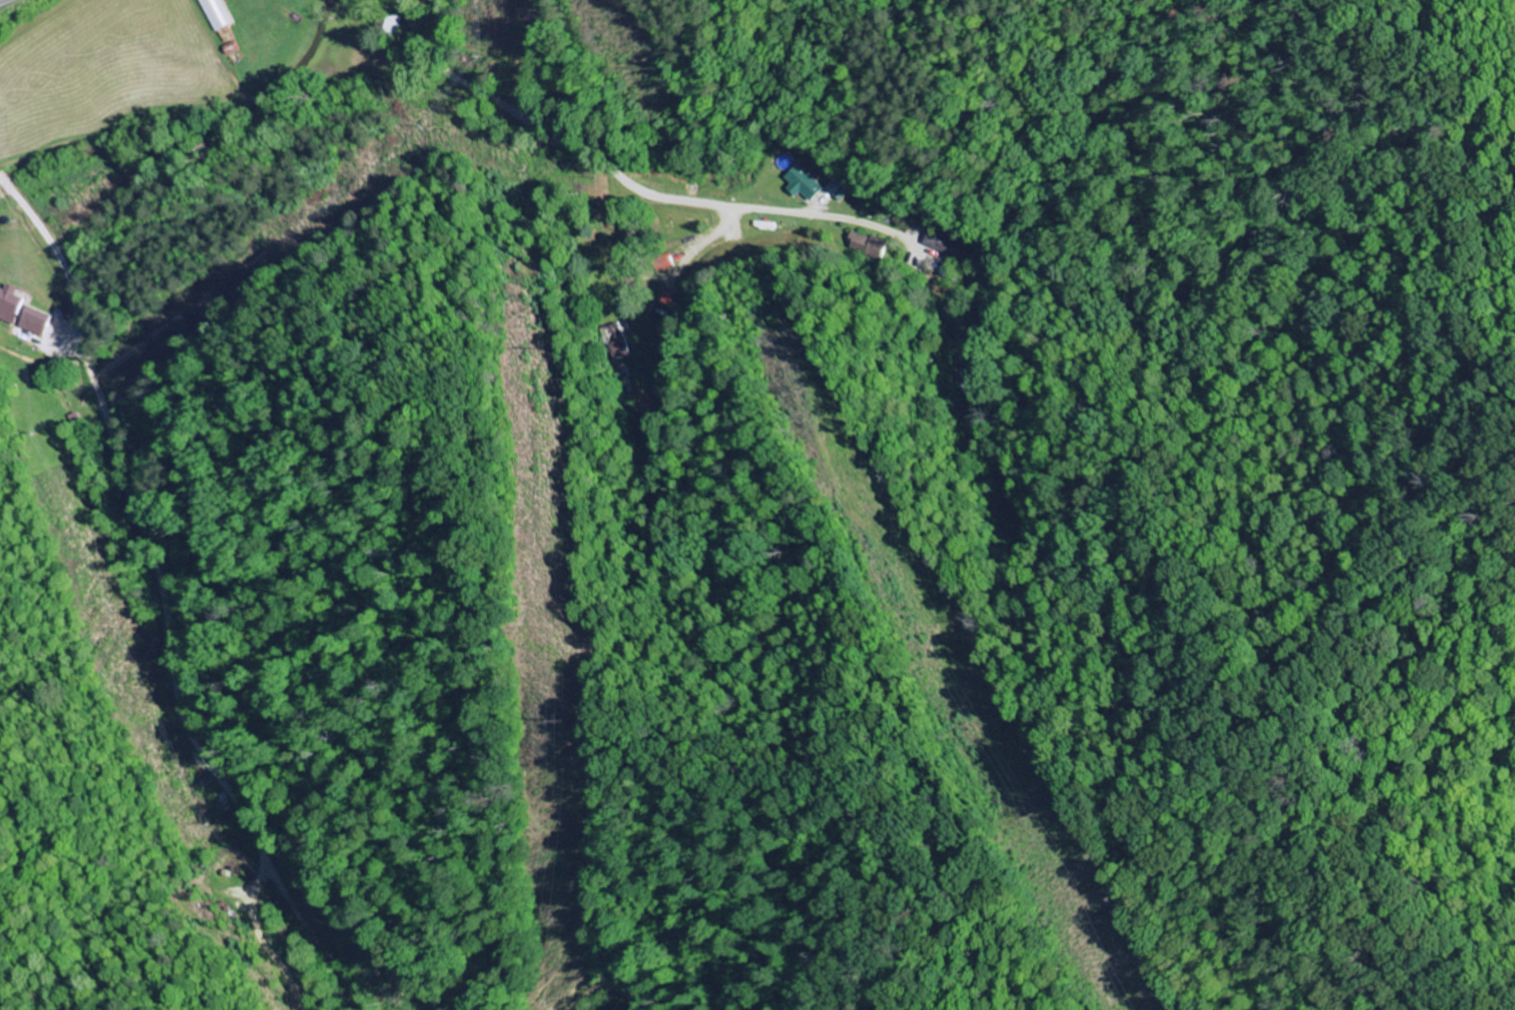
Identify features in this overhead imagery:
road: (579, 63)
road: (628, 180)
building: (805, 183)
building: (834, 187)
road: (43, 235)
building: (941, 243)
building: (867, 245)
building: (10, 303)
building: (36, 320)
power tower: (521, 349)
building: (965, 381)
power tower: (550, 719)
power tower: (1025, 815)

